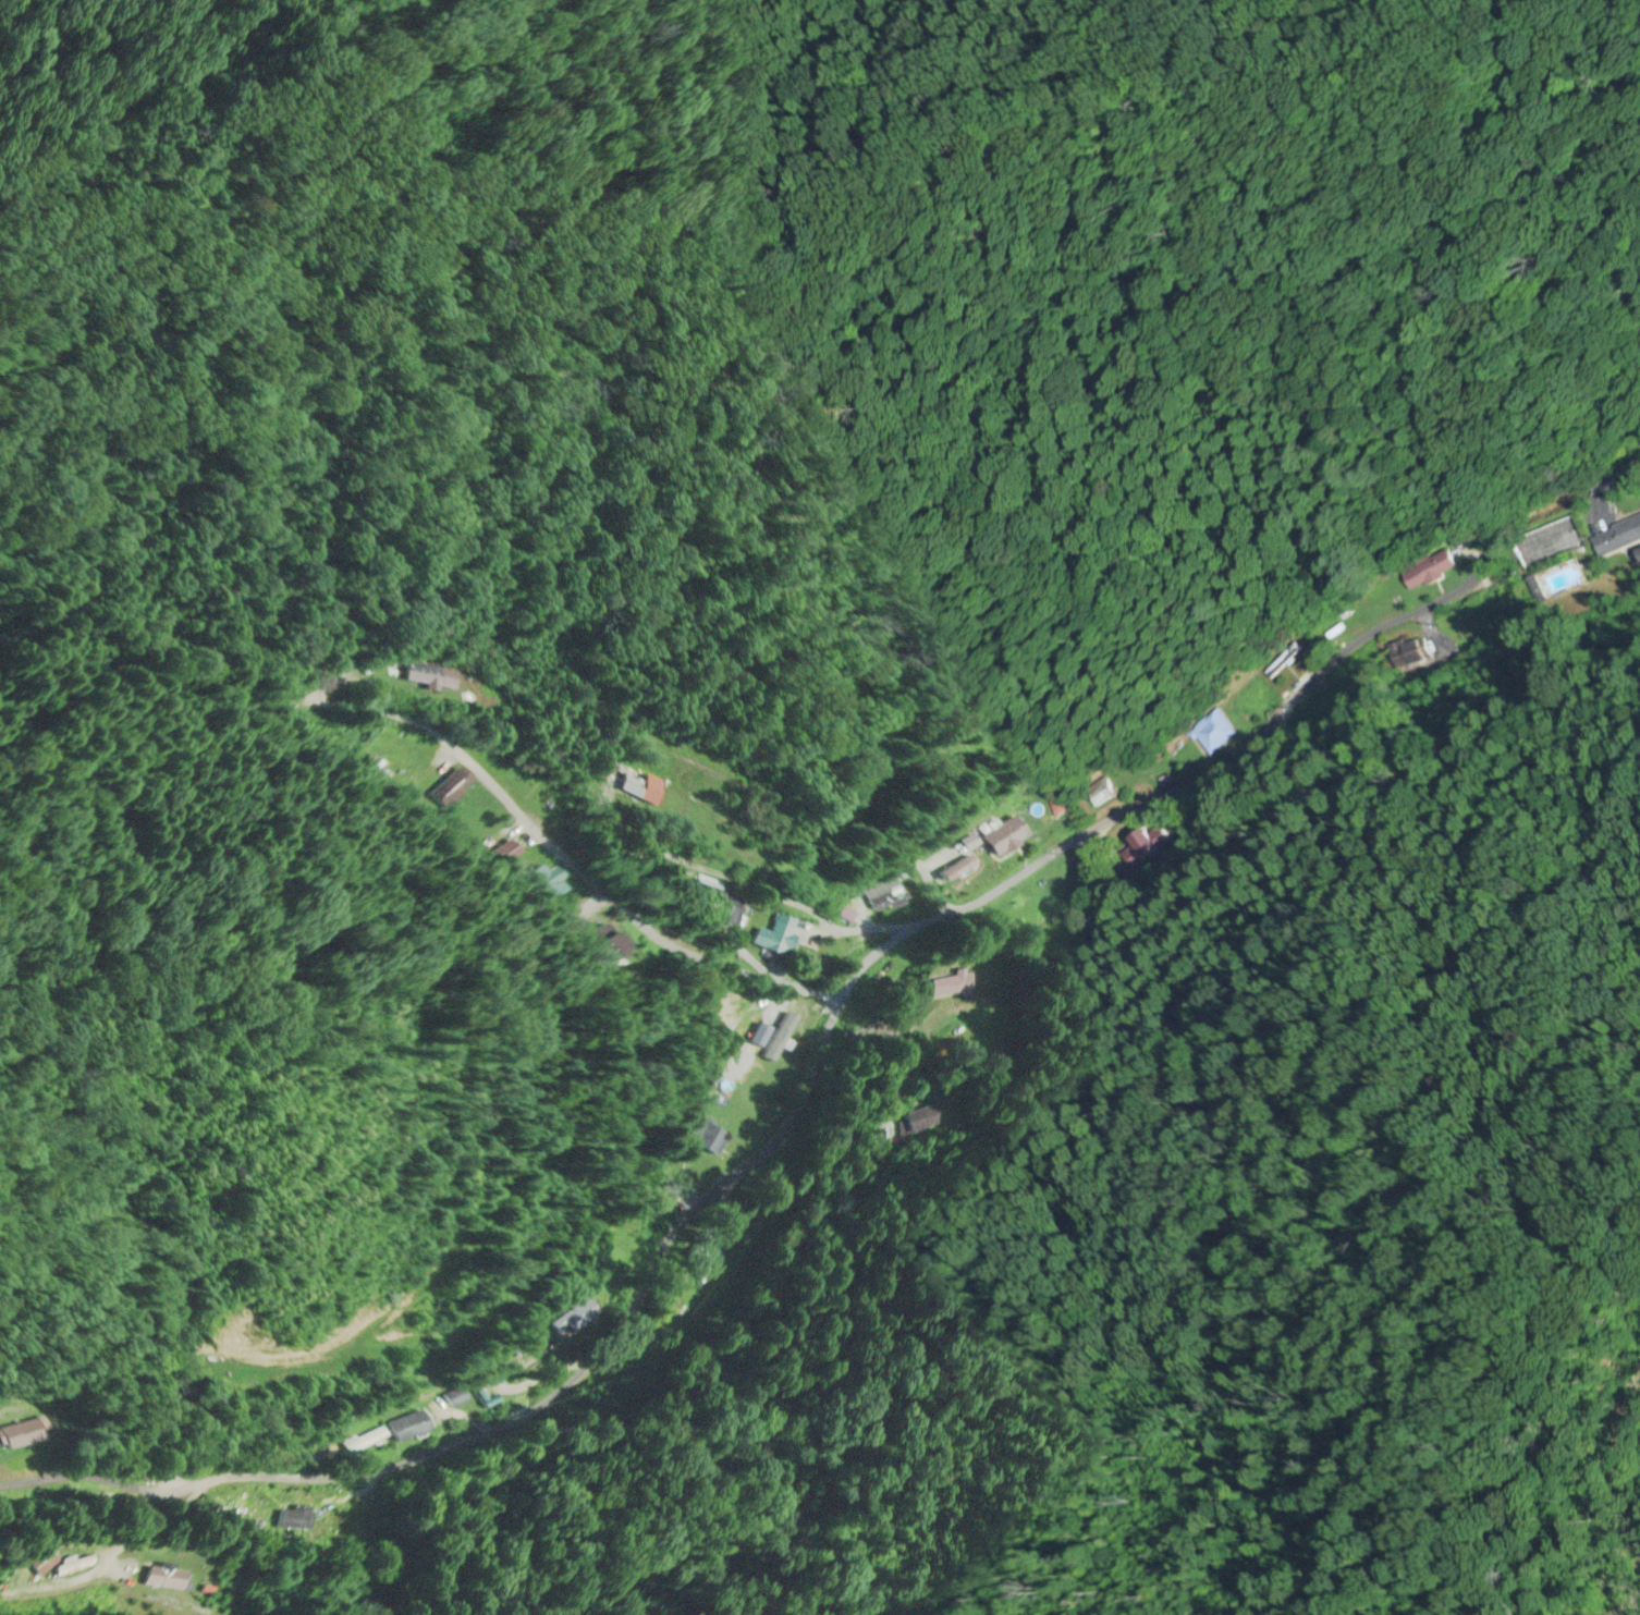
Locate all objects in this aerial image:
building: (1615, 538)
building: (1428, 572)
building: (1408, 657)
building: (1281, 662)
building: (427, 680)
building: (1211, 734)
building: (627, 785)
building: (1003, 839)
building: (1151, 845)
building: (956, 871)
road: (588, 878)
building: (1053, 890)
building: (888, 898)
building: (776, 938)
building: (948, 987)
road: (817, 1057)
building: (915, 1122)
building: (707, 1142)
building: (700, 1265)
building: (449, 1400)
building: (403, 1429)
building: (20, 1436)
building: (360, 1444)
building: (238, 1515)
building: (303, 1519)
building: (35, 1564)

